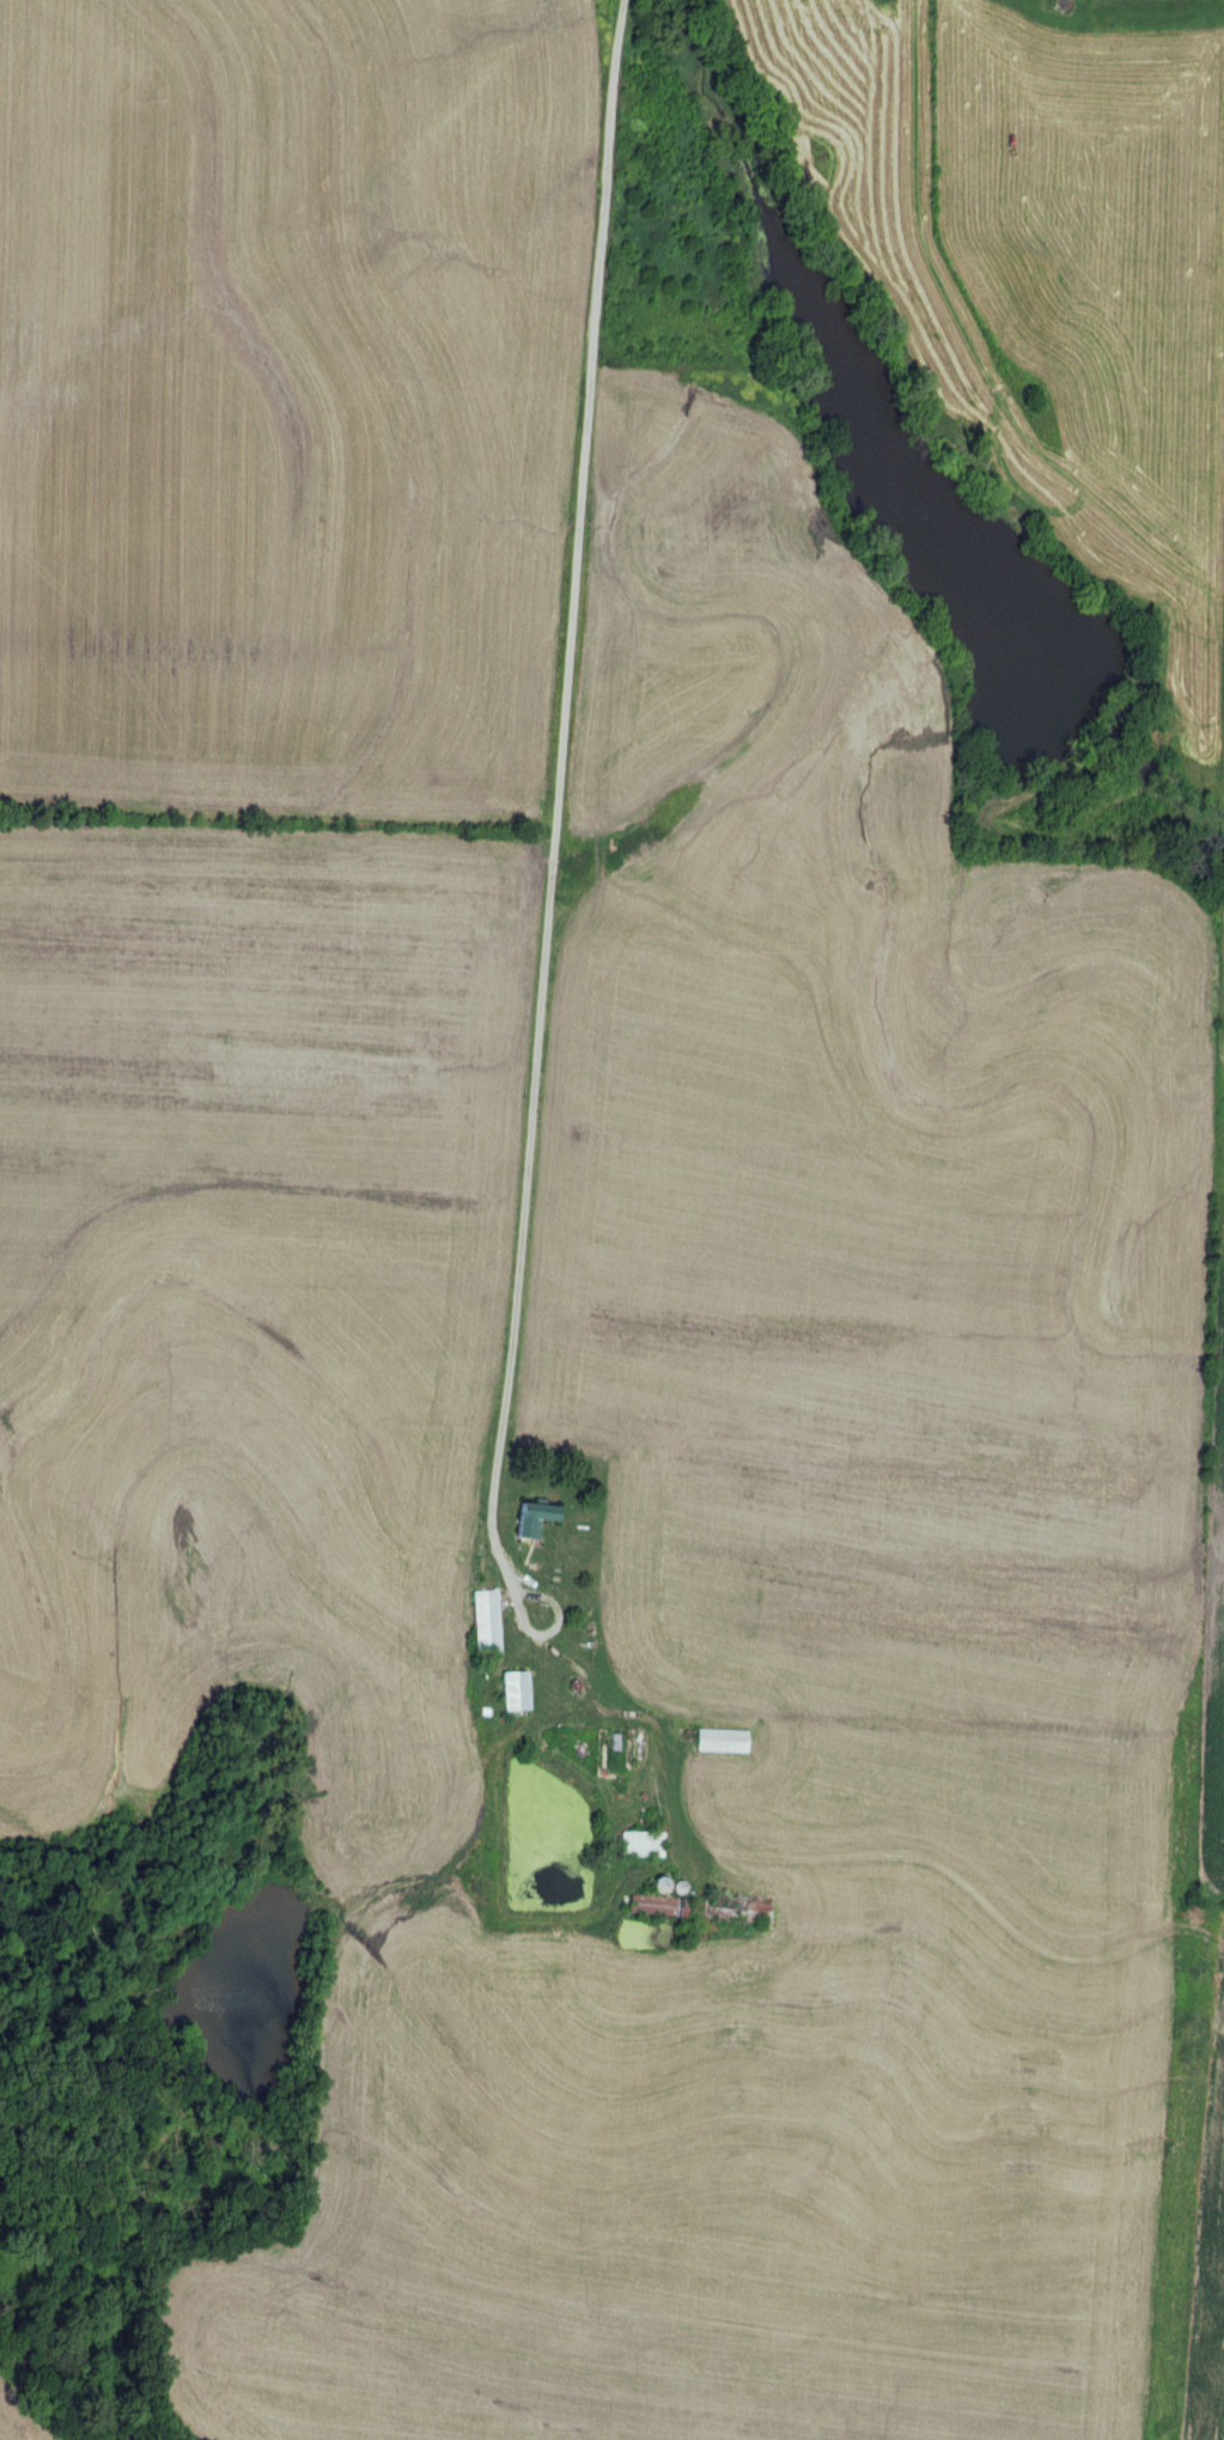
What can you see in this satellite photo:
road: (542, 982)
building: (529, 1516)
building: (481, 1622)
building: (509, 1691)
building: (717, 1741)
building: (638, 1845)
building: (650, 1906)
building: (735, 1908)

